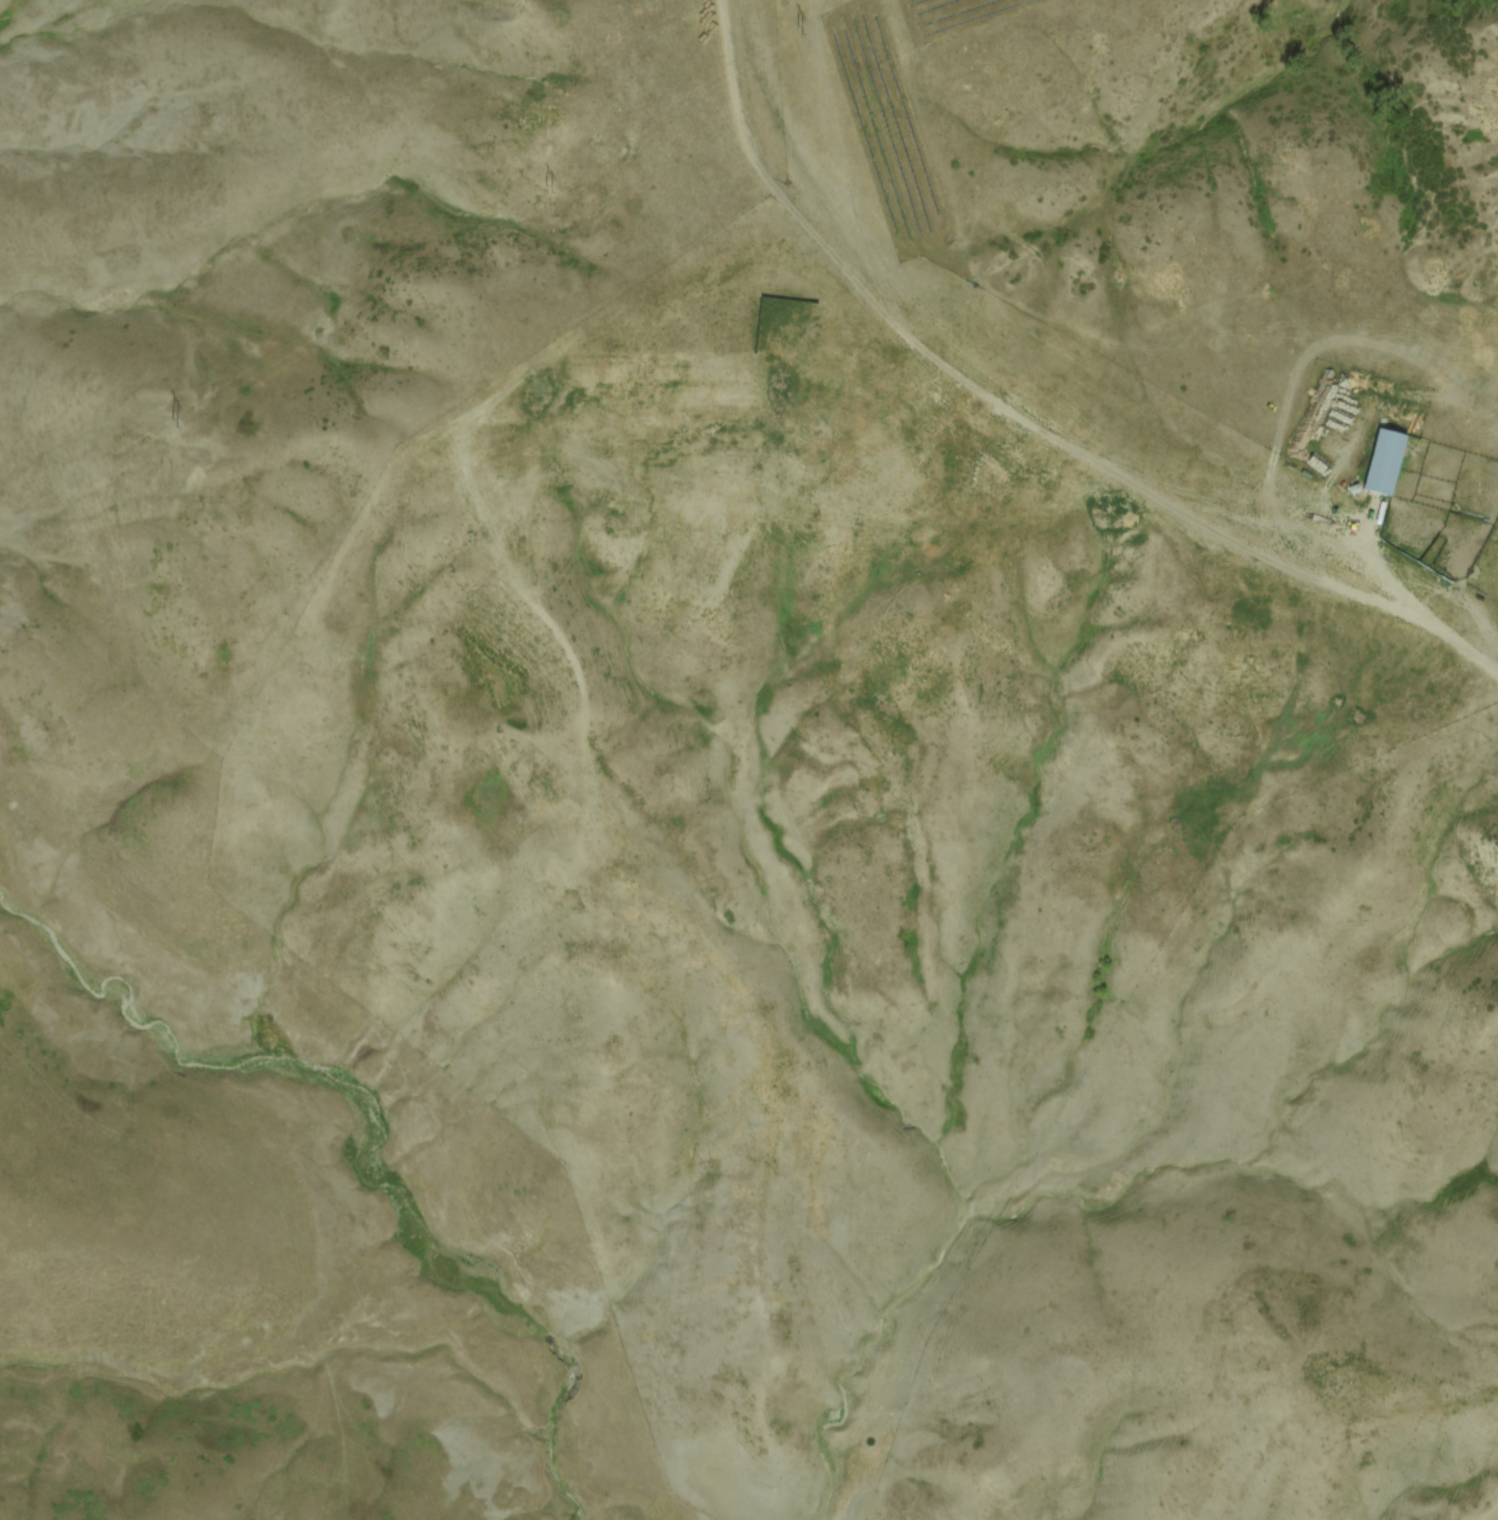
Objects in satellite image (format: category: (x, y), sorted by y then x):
power tower: (796, 29)
power tower: (546, 187)
power tower: (170, 423)

